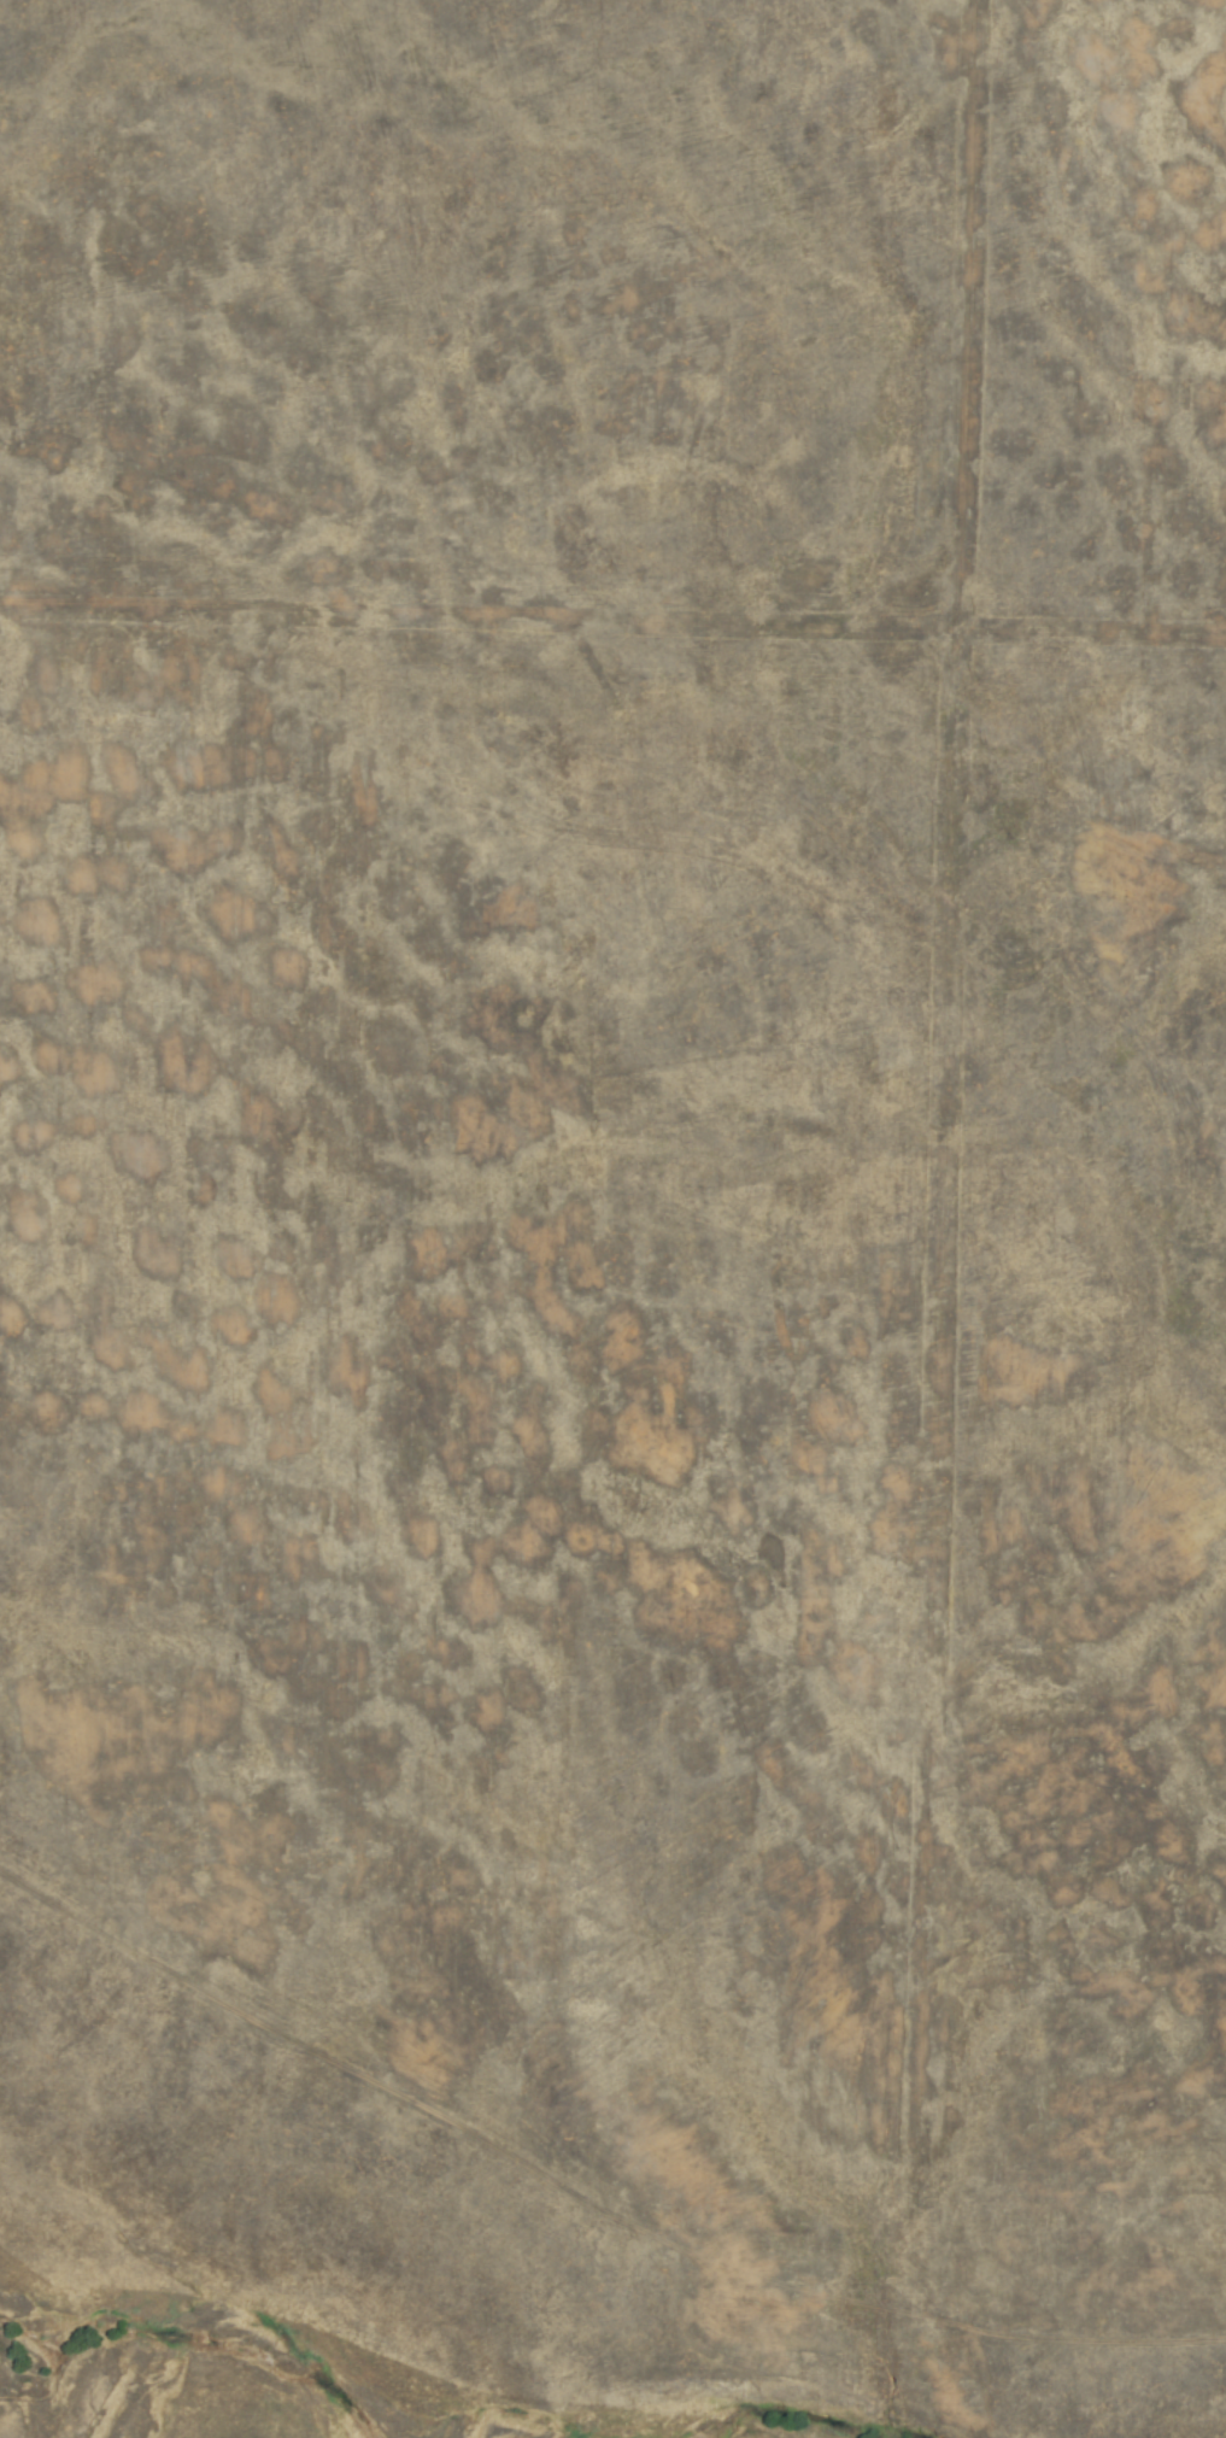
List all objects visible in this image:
road: (582, 2197)
river: (196, 2337)
river: (794, 2410)

